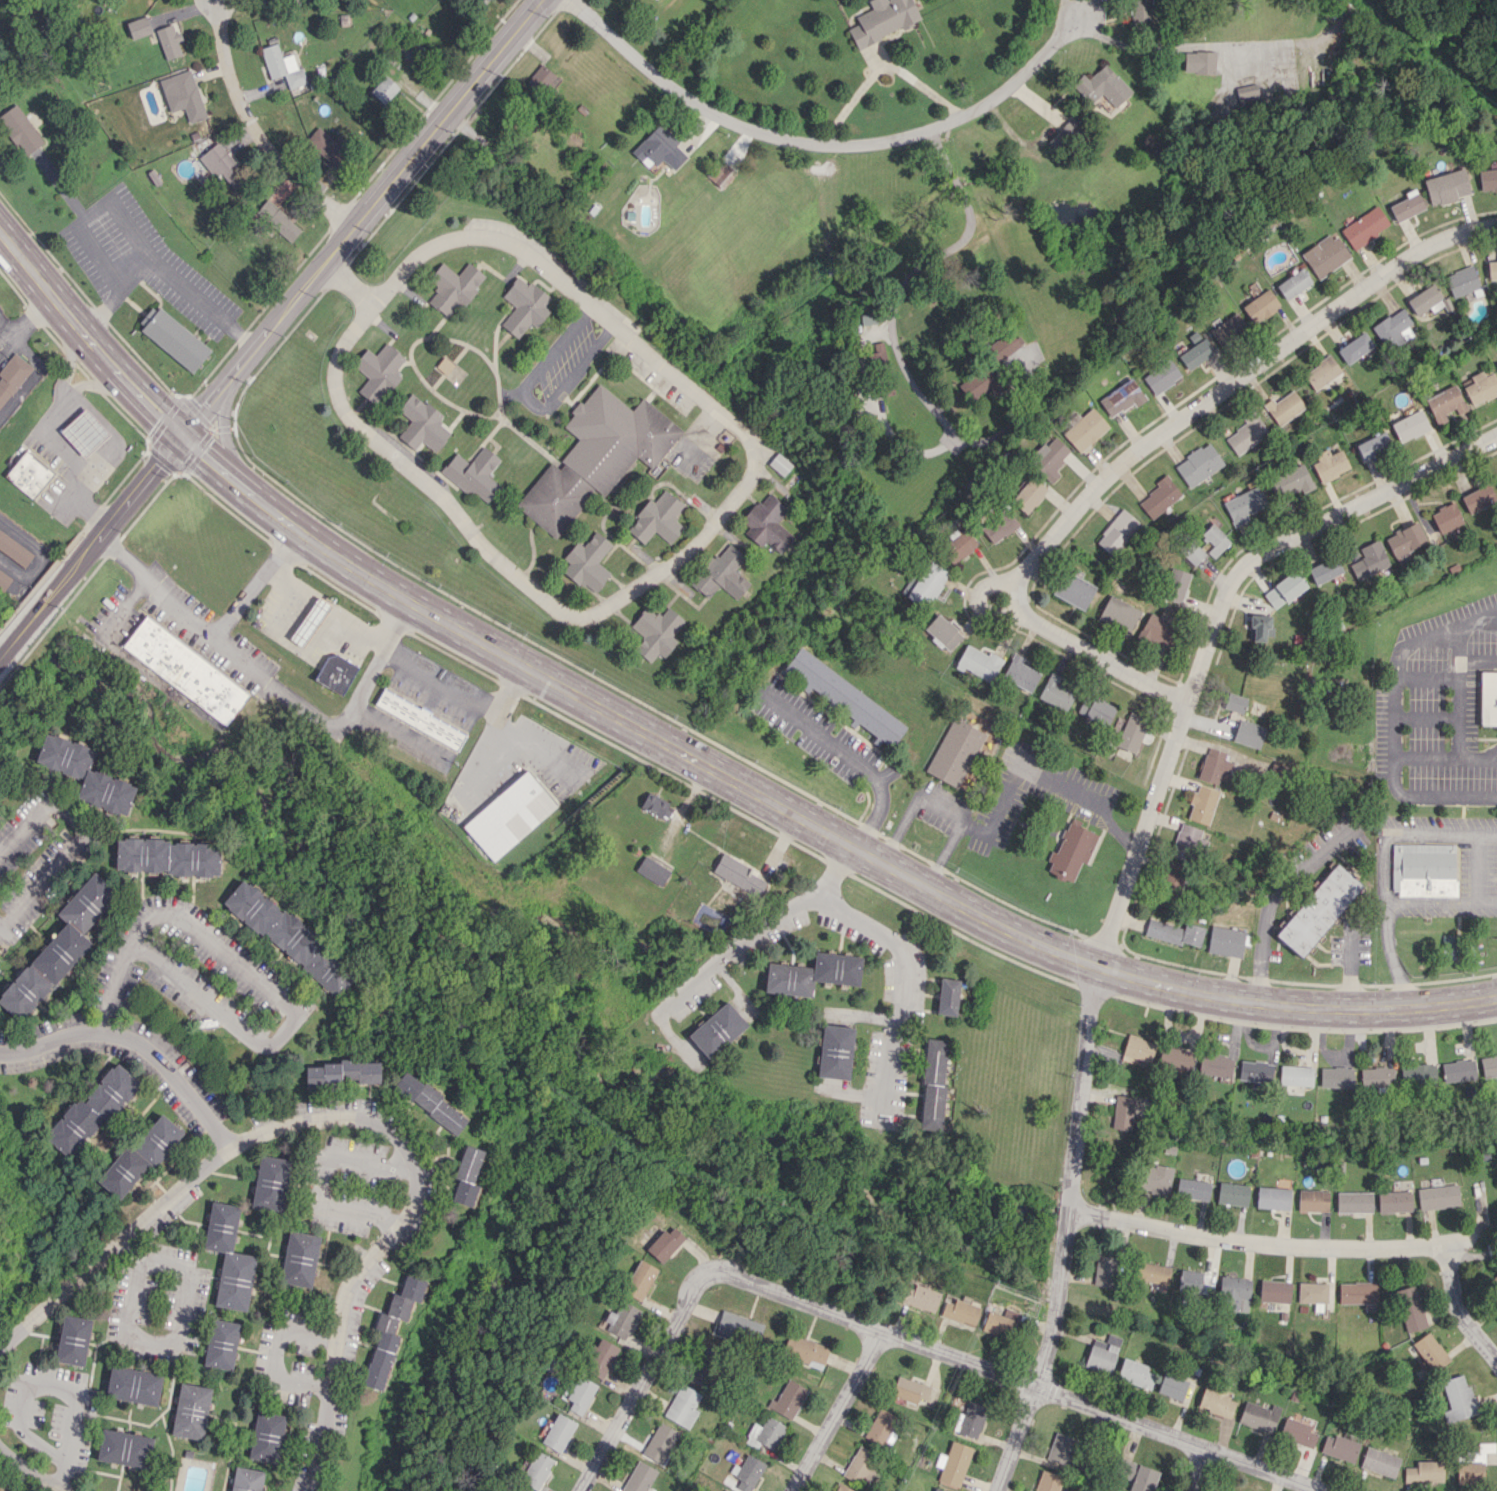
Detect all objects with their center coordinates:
building: (487, 0)
building: (302, 1)
building: (1141, 13)
building: (882, 20)
building: (138, 27)
building: (168, 41)
road: (1147, 49)
building: (412, 50)
building: (1199, 62)
building: (282, 66)
road: (880, 69)
building: (545, 82)
building: (1102, 86)
building: (384, 89)
building: (1247, 93)
building: (183, 94)
road: (261, 128)
building: (20, 129)
building: (1065, 135)
building: (326, 144)
road: (823, 145)
building: (659, 148)
road: (942, 154)
building: (221, 164)
building: (719, 172)
building: (1487, 179)
road: (956, 183)
building: (1446, 186)
road: (61, 187)
building: (1406, 207)
road: (91, 213)
road: (361, 217)
building: (277, 221)
building: (1364, 227)
building: (1325, 255)
road: (166, 268)
building: (1492, 269)
road: (350, 278)
building: (1462, 281)
building: (1293, 283)
building: (453, 287)
building: (1428, 299)
building: (524, 306)
building: (1260, 306)
building: (866, 318)
building: (1227, 328)
building: (1394, 328)
building: (172, 337)
road: (88, 343)
road: (557, 346)
building: (1002, 346)
building: (1355, 347)
building: (1194, 353)
road: (67, 360)
building: (1496, 362)
road: (580, 366)
road: (902, 367)
building: (378, 371)
building: (1322, 372)
building: (12, 376)
building: (1160, 376)
building: (981, 382)
road: (90, 383)
building: (1480, 387)
building: (1121, 398)
road: (530, 403)
building: (1445, 403)
building: (1284, 407)
road: (48, 416)
building: (421, 424)
building: (1409, 425)
building: (1085, 429)
building: (84, 432)
building: (1245, 434)
road: (1153, 442)
building: (1372, 446)
building: (596, 455)
building: (1048, 457)
building: (780, 464)
building: (1197, 464)
building: (1329, 464)
building: (473, 473)
building: (28, 474)
building: (1290, 481)
building: (1496, 481)
building: (1028, 495)
building: (1158, 498)
building: (1478, 498)
building: (1244, 505)
building: (1446, 517)
building: (657, 518)
building: (767, 524)
building: (998, 526)
building: (1117, 532)
road: (699, 534)
building: (1213, 539)
building: (1405, 542)
building: (958, 545)
road: (93, 546)
building: (14, 549)
building: (1194, 554)
building: (1369, 560)
building: (587, 562)
building: (1325, 570)
building: (722, 572)
building: (4, 580)
building: (925, 583)
building: (1176, 585)
building: (1284, 589)
building: (1074, 590)
building: (1118, 614)
road: (1476, 618)
building: (309, 621)
building: (1260, 626)
road: (206, 628)
building: (1157, 630)
building: (943, 631)
building: (656, 632)
road: (318, 650)
road: (1396, 657)
building: (978, 662)
road: (1477, 662)
road: (1457, 663)
building: (185, 670)
building: (335, 673)
building: (1019, 673)
building: (1056, 692)
road: (280, 693)
road: (462, 696)
building: (845, 697)
building: (1488, 698)
building: (1235, 702)
building: (1096, 709)
road: (367, 715)
building: (420, 719)
building: (1131, 732)
building: (1249, 733)
road: (533, 746)
building: (955, 752)
road: (1405, 756)
road: (851, 757)
road: (478, 758)
building: (1213, 768)
building: (84, 772)
road: (1428, 797)
road: (999, 802)
building: (1202, 804)
building: (656, 806)
road: (40, 810)
building: (510, 814)
road: (803, 821)
building: (1187, 843)
road: (941, 852)
building: (1071, 852)
building: (167, 857)
road: (1382, 865)
building: (652, 870)
building: (1423, 870)
building: (737, 874)
building: (1172, 881)
road: (42, 883)
road: (1123, 883)
road: (1272, 895)
road: (1426, 901)
road: (1483, 901)
building: (1318, 909)
building: (1174, 932)
building: (289, 938)
building: (1226, 941)
building: (58, 948)
road: (736, 949)
road: (896, 963)
road: (1348, 966)
building: (812, 974)
road: (260, 983)
building: (947, 996)
building: (717, 1030)
road: (136, 1043)
building: (1138, 1048)
building: (835, 1051)
building: (1175, 1058)
building: (1215, 1065)
building: (1488, 1066)
building: (1453, 1070)
building: (1255, 1071)
building: (344, 1072)
building: (1417, 1074)
building: (1295, 1075)
building: (1376, 1076)
building: (1336, 1077)
building: (933, 1084)
building: (430, 1102)
building: (91, 1109)
building: (1122, 1112)
building: (139, 1156)
road: (324, 1176)
building: (466, 1176)
building: (1155, 1178)
building: (270, 1183)
building: (1192, 1189)
road: (174, 1191)
building: (1232, 1193)
building: (1437, 1196)
building: (1273, 1197)
building: (1312, 1200)
building: (1394, 1201)
building: (1353, 1202)
building: (665, 1243)
road: (1268, 1243)
building: (228, 1257)
building: (299, 1258)
building: (1104, 1270)
building: (1152, 1272)
building: (639, 1279)
building: (1495, 1280)
building: (1192, 1281)
building: (1274, 1291)
building: (1236, 1292)
building: (1312, 1292)
building: (1357, 1292)
road: (347, 1297)
building: (405, 1297)
building: (920, 1297)
building: (1409, 1308)
road: (1458, 1310)
building: (959, 1311)
building: (621, 1319)
building: (995, 1325)
building: (739, 1327)
building: (72, 1340)
building: (221, 1344)
road: (161, 1347)
building: (804, 1351)
building: (1430, 1351)
road: (275, 1353)
building: (380, 1353)
building: (600, 1357)
building: (1100, 1358)
building: (694, 1370)
building: (1134, 1373)
road: (1013, 1377)
road: (640, 1380)
building: (133, 1385)
building: (1172, 1386)
road: (28, 1389)
building: (910, 1389)
building: (580, 1394)
building: (1457, 1398)
building: (787, 1399)
building: (1215, 1401)
building: (683, 1406)
building: (190, 1411)
road: (834, 1411)
building: (1258, 1416)
building: (970, 1419)
building: (882, 1427)
building: (558, 1432)
building: (766, 1432)
building: (1298, 1432)
building: (266, 1436)
building: (660, 1443)
building: (1339, 1447)
building: (124, 1448)
building: (1060, 1448)
building: (1379, 1462)
building: (953, 1463)
building: (1473, 1465)
building: (861, 1466)
road: (29, 1470)
building: (536, 1470)
road: (1196, 1470)
building: (1423, 1472)
building: (749, 1474)
building: (1138, 1476)
building: (639, 1477)
building: (246, 1479)
building: (1047, 1481)
building: (841, 1487)
building: (937, 1489)
building: (161, 1490)
building: (513, 1490)
building: (725, 1490)

